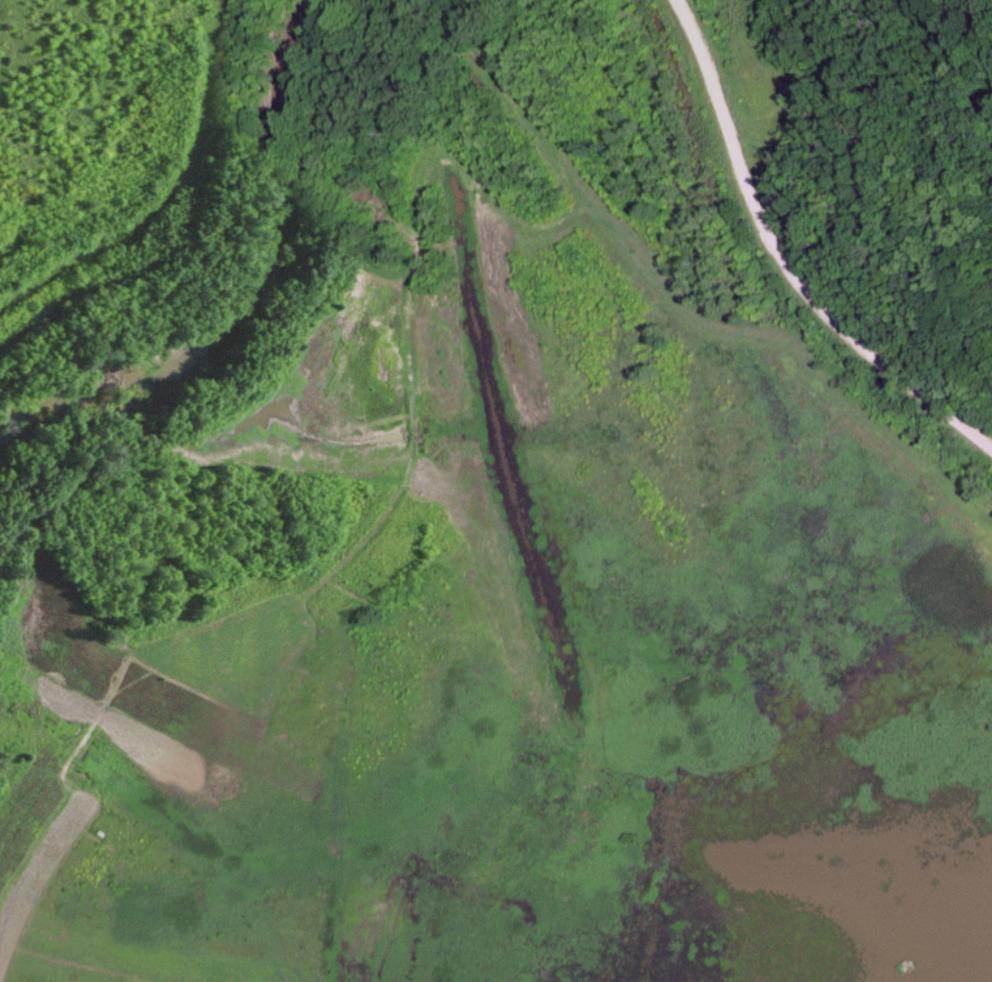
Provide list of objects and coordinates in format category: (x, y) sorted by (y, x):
road: (783, 263)

